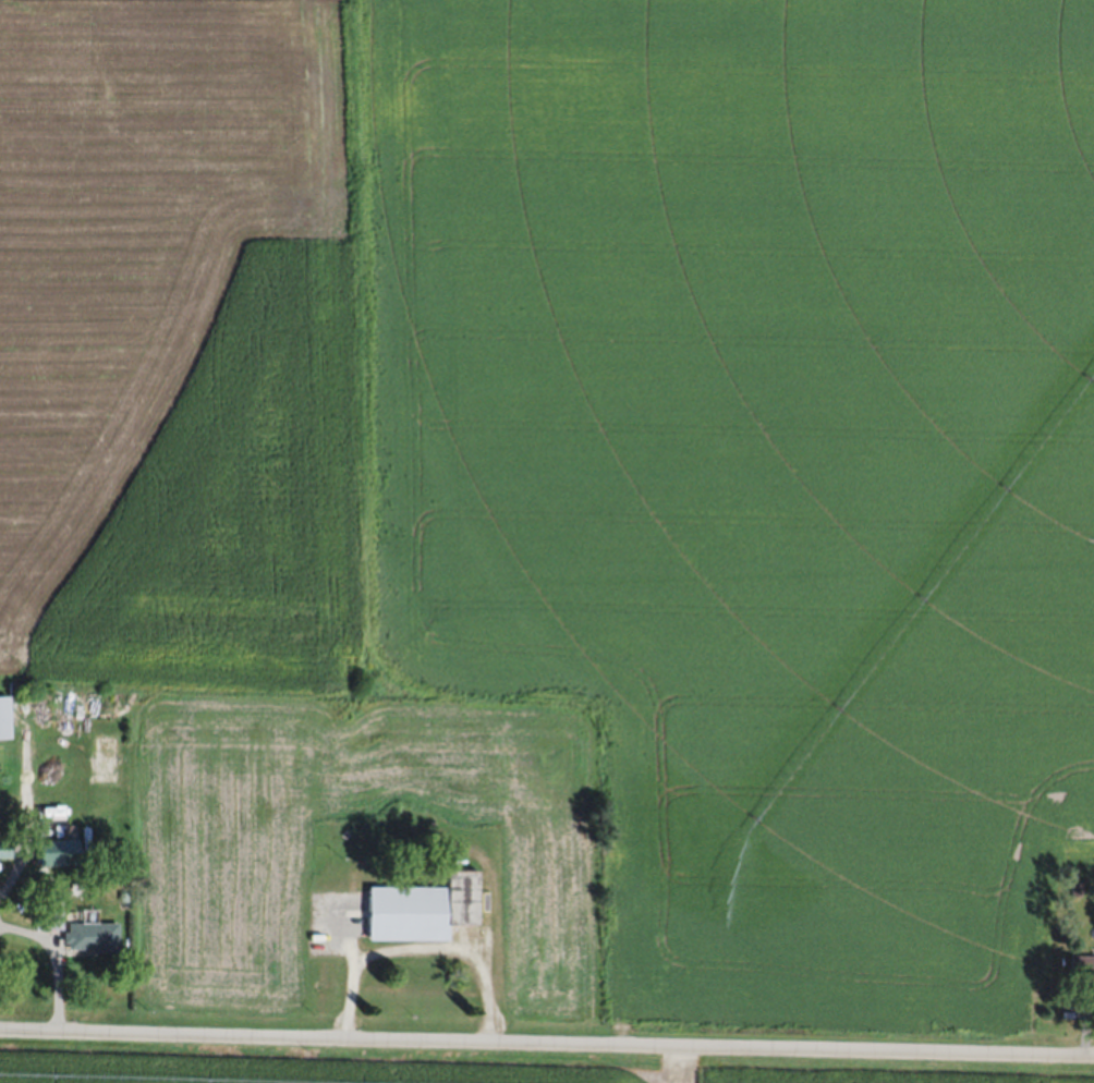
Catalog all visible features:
building: (7, 717)
road: (24, 815)
building: (8, 848)
building: (60, 850)
building: (404, 911)
building: (94, 936)
road: (423, 945)
road: (54, 958)
building: (1083, 968)
road: (546, 1039)

